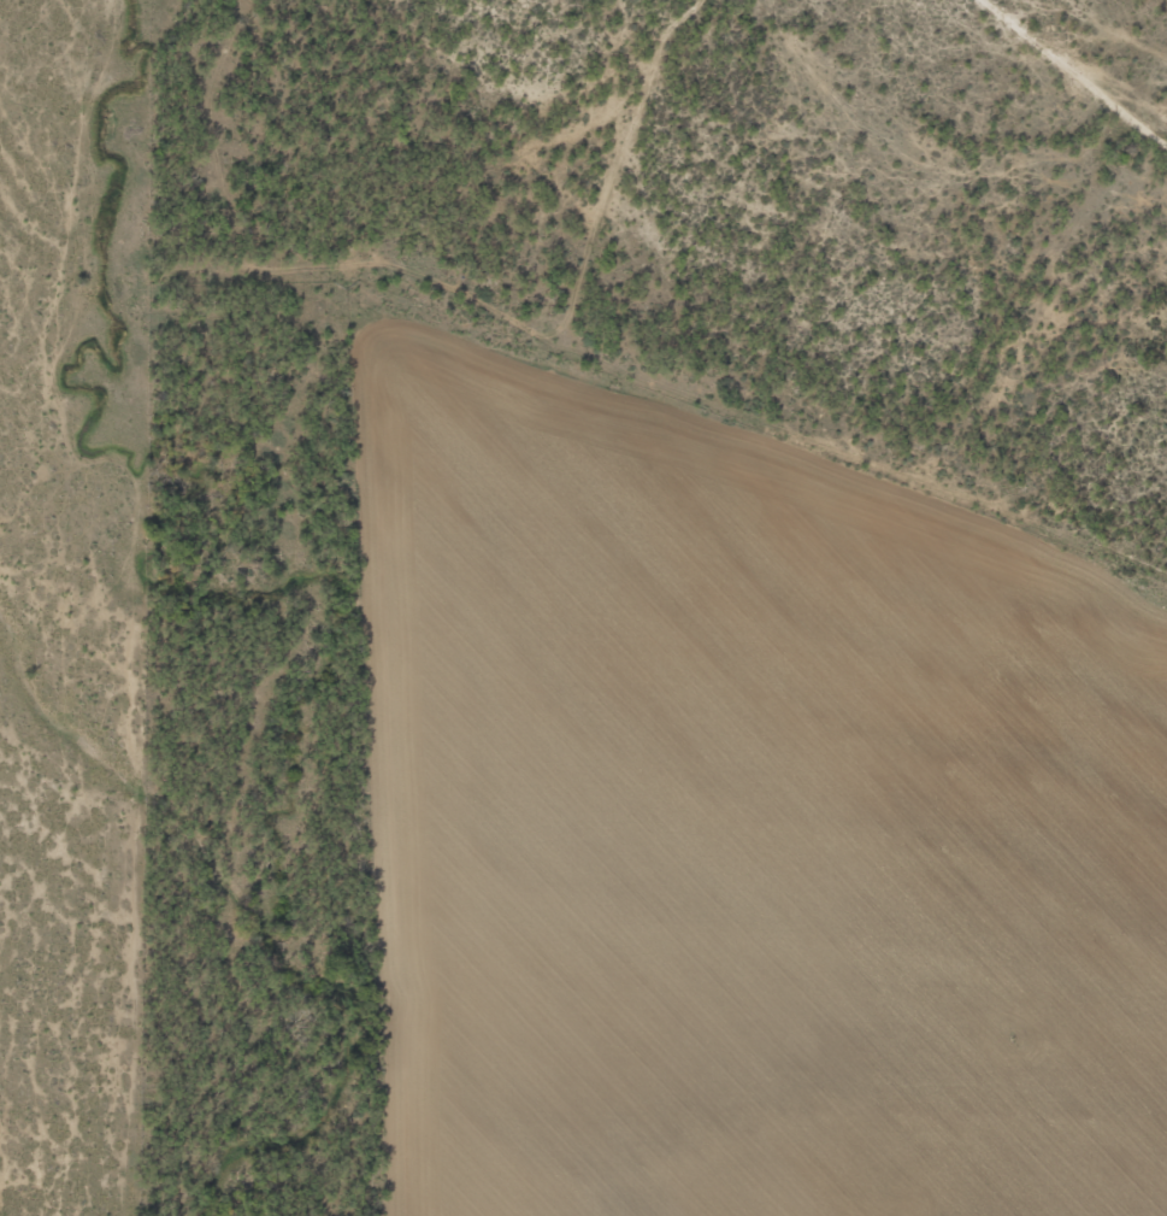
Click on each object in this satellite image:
road: (1073, 64)

